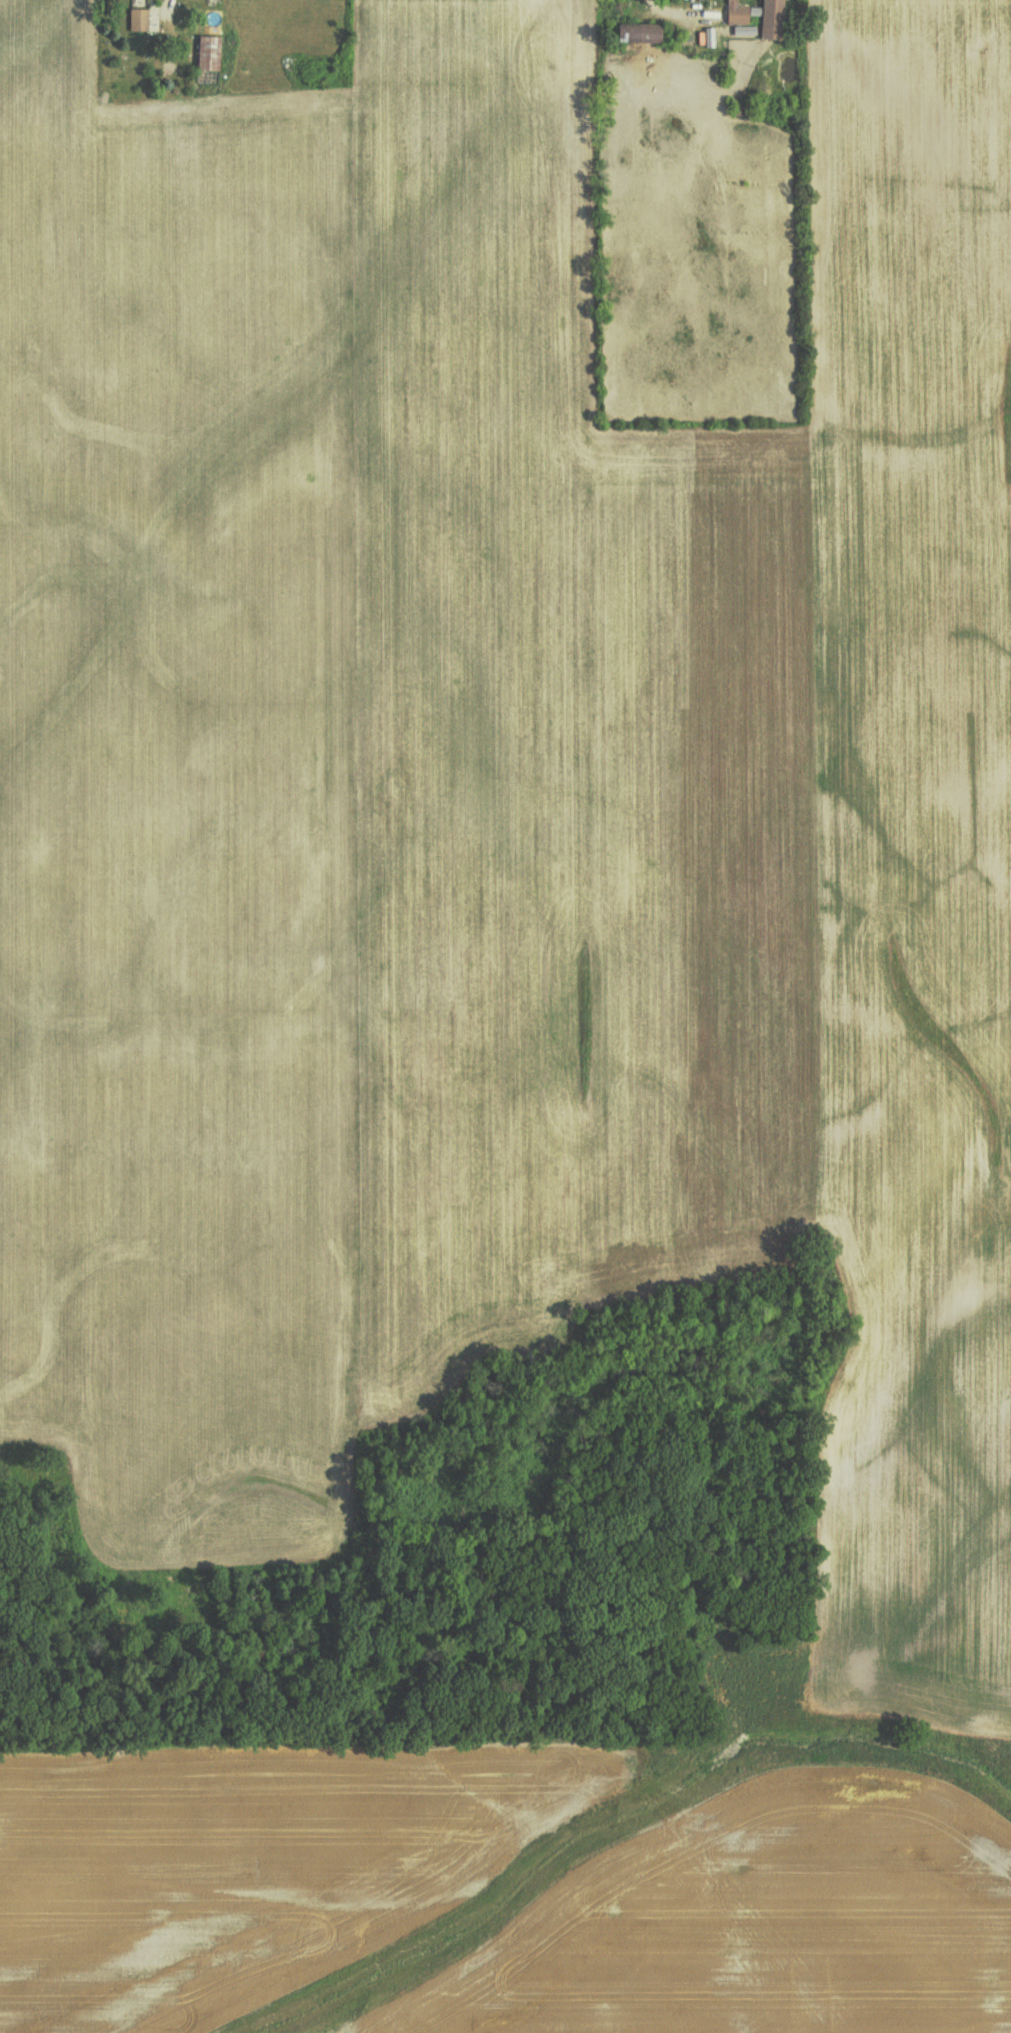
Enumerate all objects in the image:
building: (734, 12)
building: (138, 18)
building: (770, 18)
building: (638, 34)
building: (208, 52)

